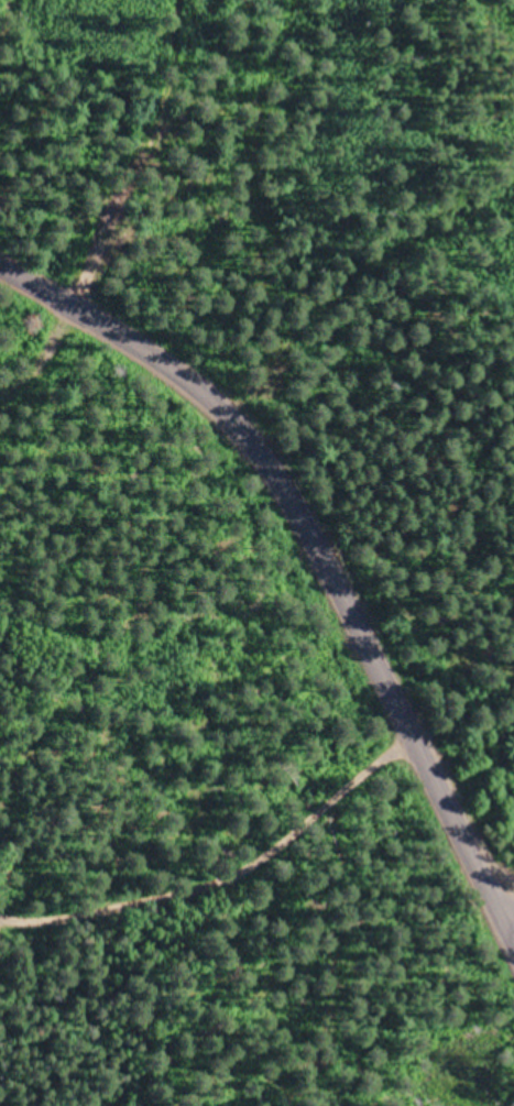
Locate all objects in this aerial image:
road: (309, 552)
road: (205, 737)
road: (505, 978)

